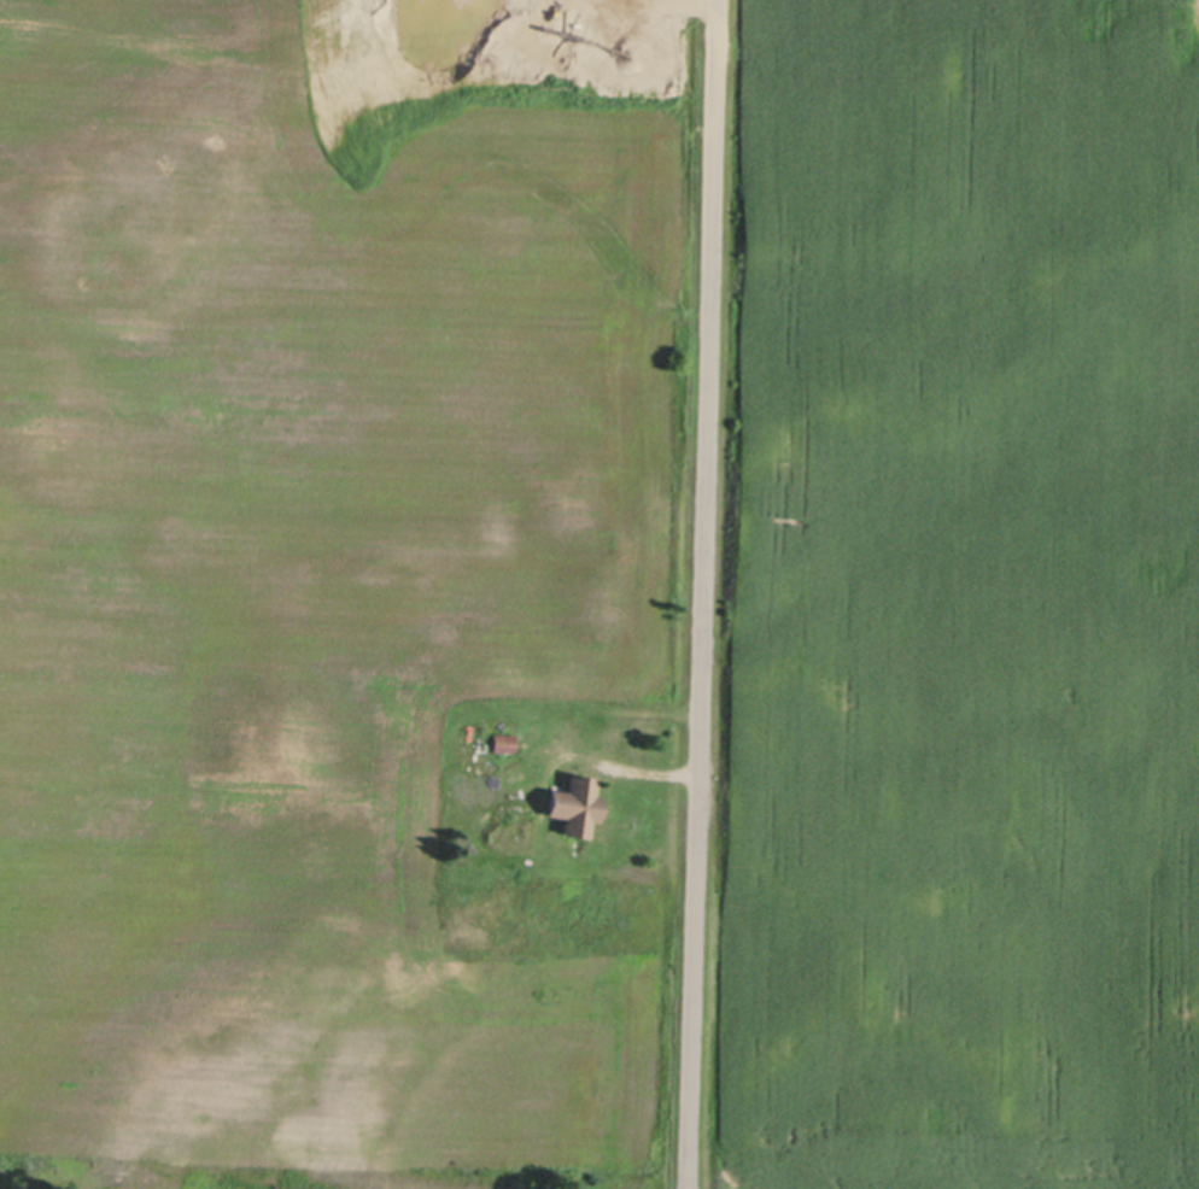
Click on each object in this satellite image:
road: (703, 594)
building: (504, 739)
building: (574, 801)

